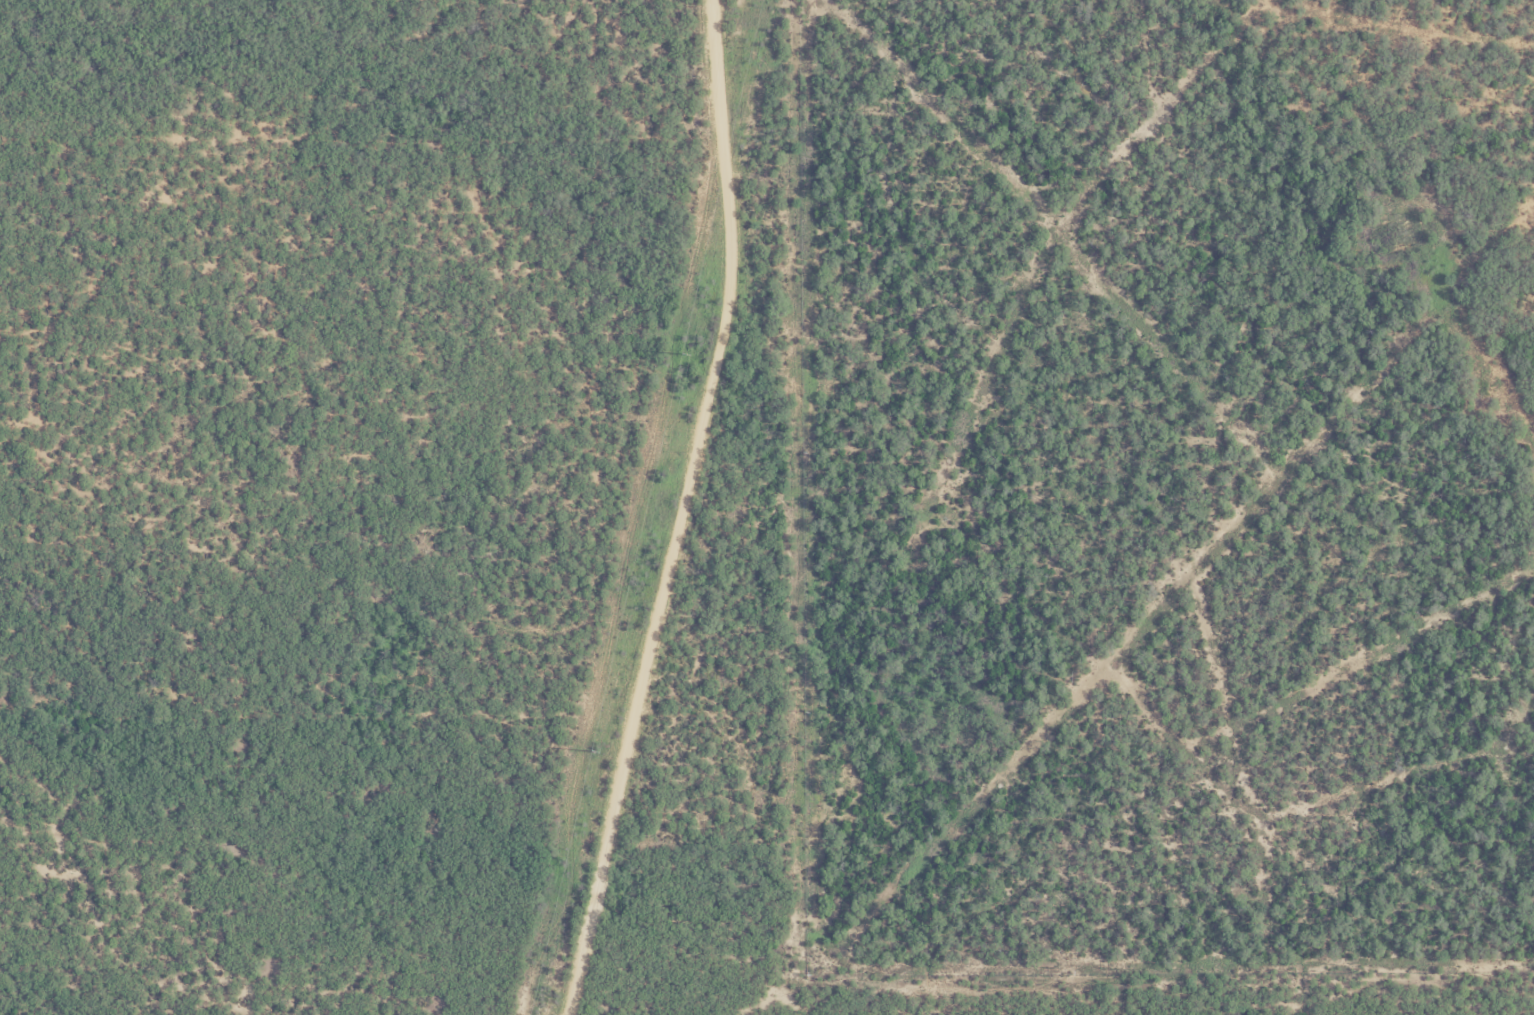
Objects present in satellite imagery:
power tower: (683, 353)
road: (683, 510)
power tower: (591, 750)

